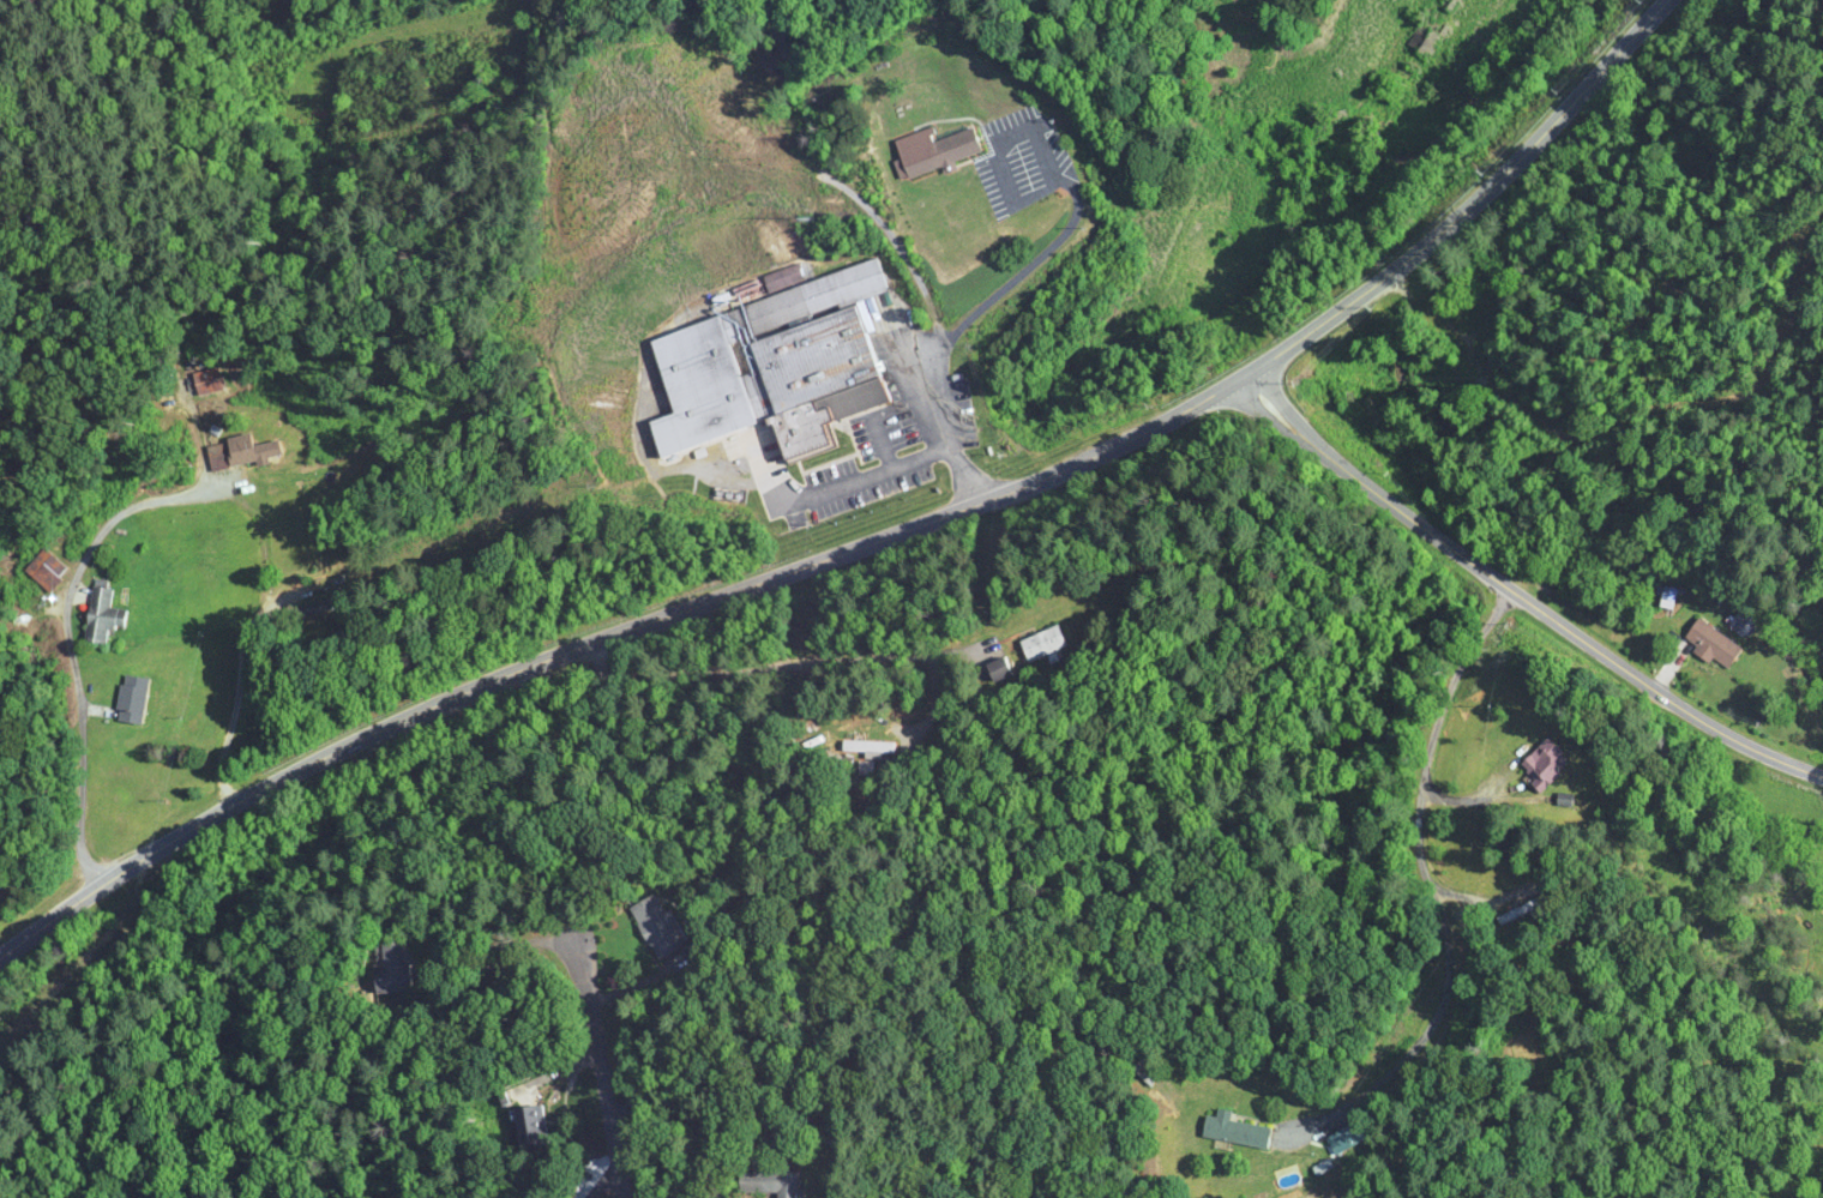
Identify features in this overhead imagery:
building: (1428, 44)
building: (934, 150)
road: (1047, 157)
building: (776, 194)
road: (1040, 254)
building: (813, 359)
building: (251, 450)
road: (885, 466)
road: (1625, 474)
road: (871, 534)
building: (1671, 592)
road: (67, 595)
road: (1517, 597)
building: (103, 613)
building: (1039, 642)
building: (1715, 645)
building: (995, 667)
road: (746, 670)
road: (237, 684)
building: (133, 699)
building: (868, 746)
building: (1540, 761)
road: (1428, 875)
building: (1516, 913)
building: (655, 926)
building: (395, 965)
road: (600, 1065)
building: (534, 1122)
building: (1234, 1130)
building: (1336, 1142)
road: (584, 1166)
building: (771, 1181)

